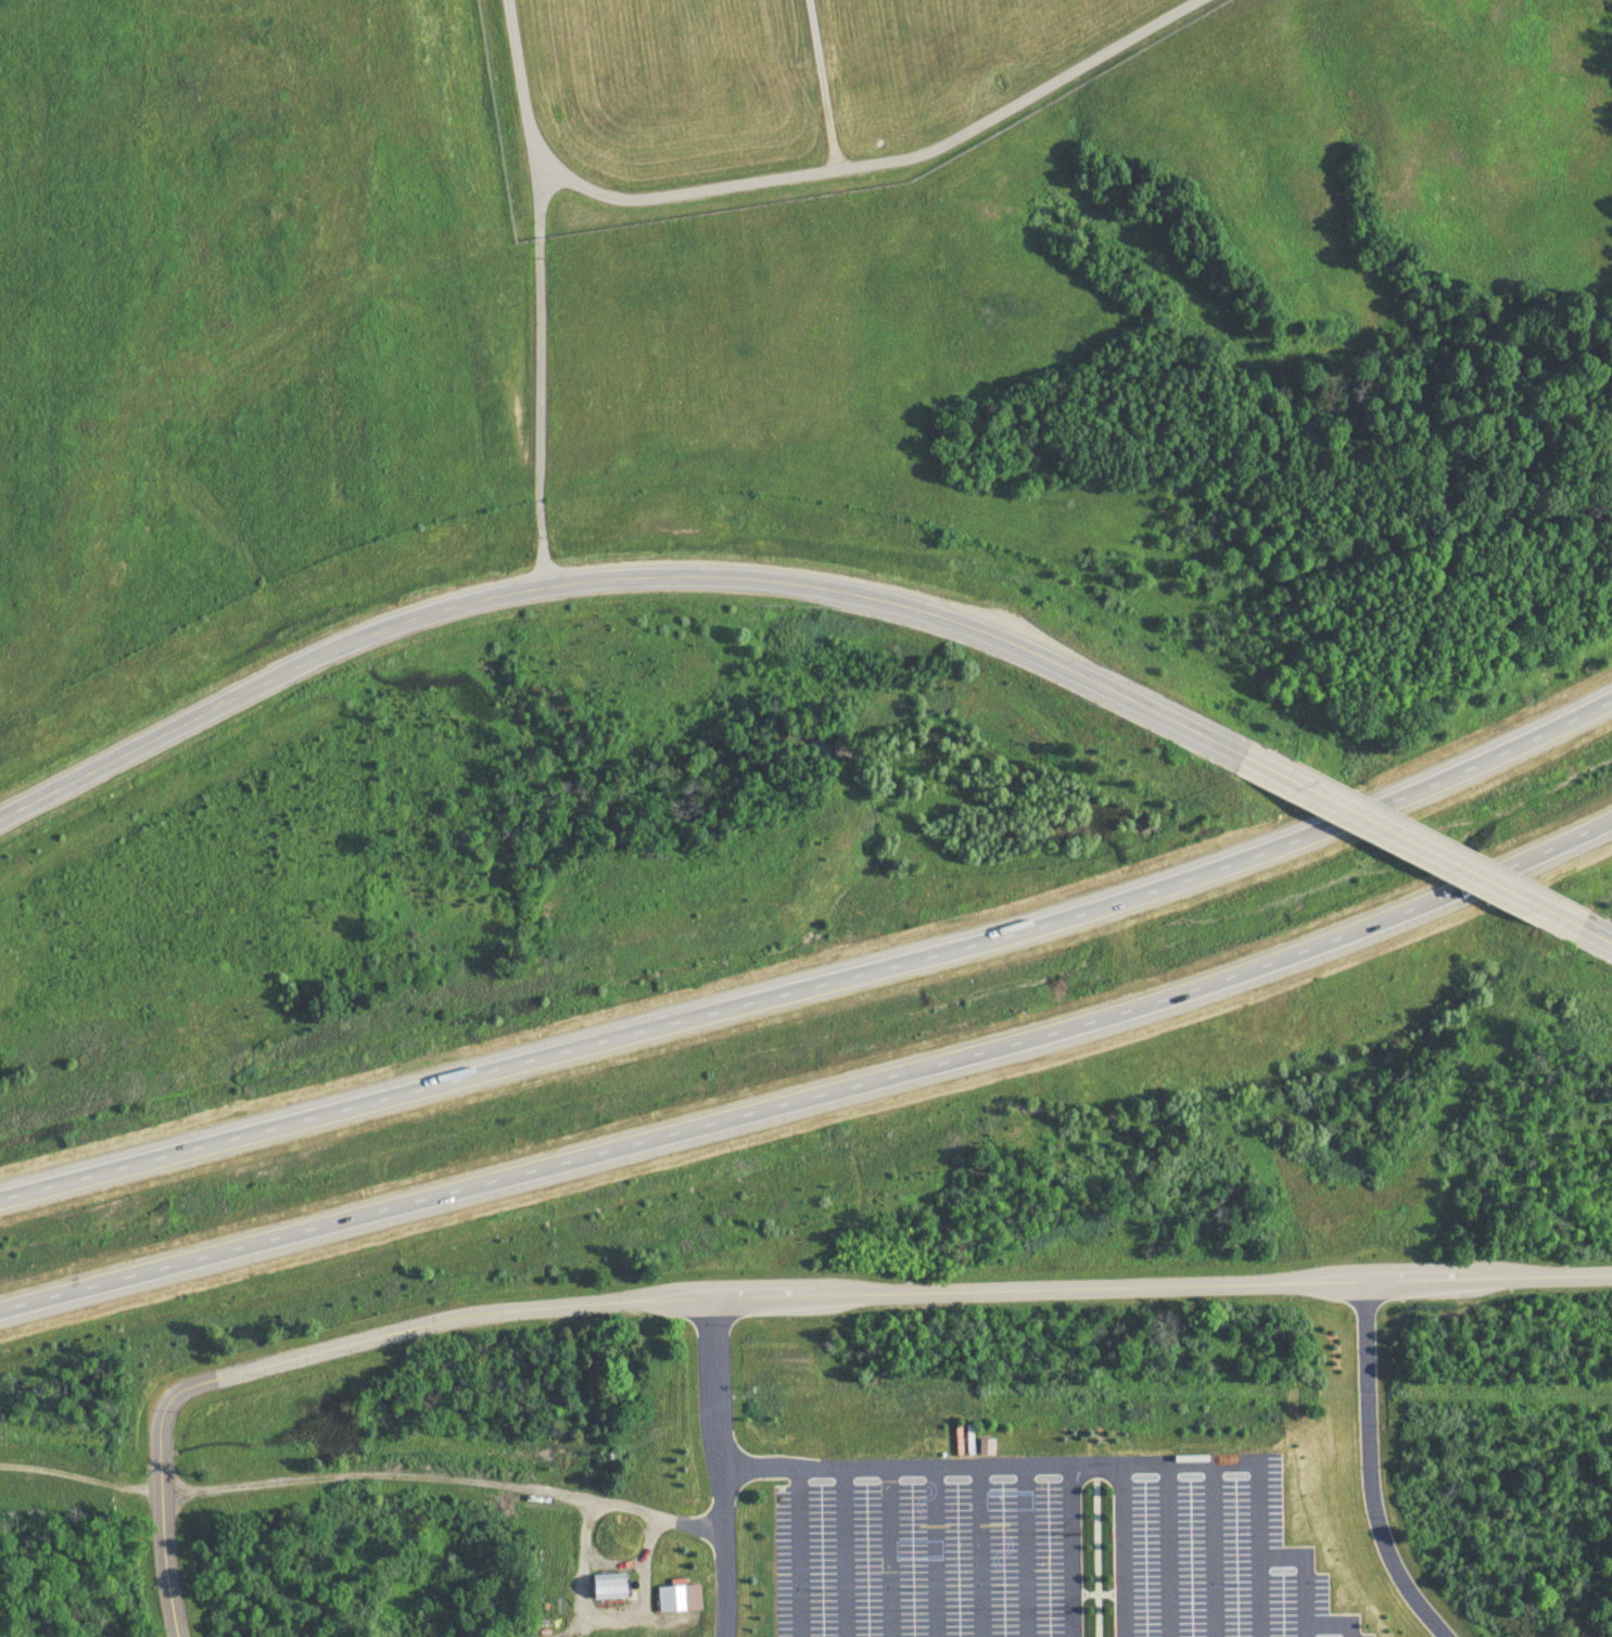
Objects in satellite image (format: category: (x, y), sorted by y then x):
road: (822, 85)
airport: (773, 94)
road: (807, 174)
road: (538, 372)
road: (623, 581)
road: (1384, 832)
road: (1561, 921)
road: (818, 987)
road: (816, 1097)
road: (1056, 1287)
road: (219, 1376)
road: (988, 1463)
road: (721, 1467)
road: (1369, 1469)
road: (364, 1470)
road: (1069, 1549)
road: (1096, 1549)
road: (1121, 1549)
road: (1168, 1549)
road: (1213, 1549)
road: (1255, 1549)
road: (798, 1550)
road: (846, 1550)
road: (889, 1550)
road: (935, 1550)
road: (979, 1550)
road: (1025, 1550)
parking lot: (1048, 1558)
road: (1302, 1572)
building: (610, 1585)
building: (680, 1597)
road: (602, 1615)
road: (1333, 1622)

